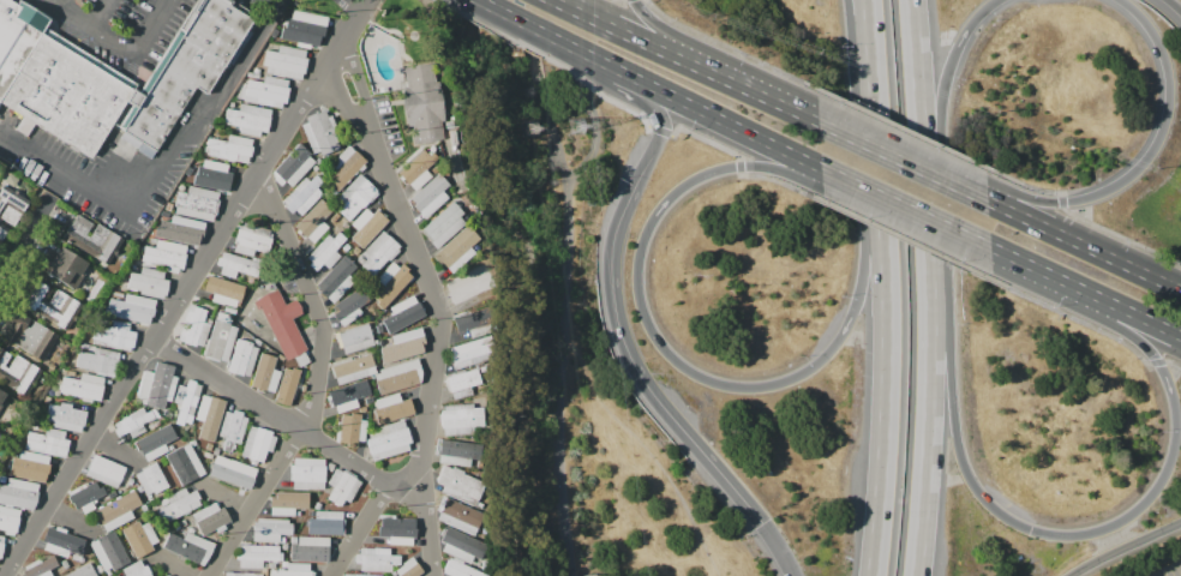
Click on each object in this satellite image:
road: (275, 1)
parking lot: (248, 4)
road: (350, 5)
road: (1175, 5)
road: (492, 6)
building: (296, 12)
road: (106, 14)
road: (455, 14)
parking lot: (118, 28)
building: (307, 30)
building: (17, 38)
road: (560, 40)
road: (114, 41)
road: (865, 43)
road: (871, 43)
road: (653, 46)
road: (691, 48)
building: (286, 62)
road: (550, 70)
building: (257, 71)
building: (250, 74)
building: (256, 76)
road: (635, 76)
road: (358, 77)
building: (125, 82)
building: (266, 91)
road: (943, 95)
road: (336, 100)
building: (422, 102)
building: (232, 104)
road: (927, 104)
road: (784, 106)
road: (658, 108)
building: (248, 119)
road: (594, 121)
road: (736, 125)
power tower: (583, 126)
power tower: (534, 127)
road: (880, 130)
building: (320, 132)
building: (230, 149)
road: (652, 154)
road: (1149, 155)
road: (901, 161)
road: (160, 164)
building: (294, 166)
building: (346, 167)
building: (420, 168)
building: (316, 169)
building: (324, 172)
building: (215, 175)
building: (186, 180)
building: (304, 194)
building: (431, 194)
building: (355, 197)
building: (197, 203)
building: (11, 205)
building: (168, 206)
road: (904, 206)
building: (334, 216)
building: (314, 223)
building: (368, 223)
building: (444, 223)
building: (344, 226)
building: (184, 229)
building: (2, 230)
building: (92, 240)
building: (251, 240)
road: (20, 242)
building: (346, 245)
road: (1083, 245)
building: (457, 250)
building: (325, 252)
building: (378, 252)
building: (348, 254)
building: (164, 256)
building: (236, 265)
road: (1035, 268)
building: (72, 270)
building: (336, 278)
building: (392, 281)
building: (149, 282)
road: (184, 287)
building: (468, 287)
building: (222, 290)
road: (308, 300)
building: (53, 305)
building: (350, 306)
building: (134, 308)
building: (229, 310)
building: (403, 312)
road: (1132, 312)
road: (565, 317)
building: (282, 322)
building: (473, 323)
building: (196, 326)
building: (379, 331)
building: (30, 336)
building: (114, 336)
building: (220, 338)
building: (354, 338)
road: (436, 338)
building: (376, 342)
building: (257, 343)
building: (403, 344)
building: (84, 347)
building: (470, 353)
building: (242, 358)
building: (280, 358)
building: (301, 359)
building: (98, 361)
road: (643, 362)
building: (52, 366)
building: (353, 368)
road: (687, 368)
building: (16, 372)
building: (64, 372)
building: (70, 373)
building: (265, 373)
road: (891, 374)
building: (398, 377)
road: (224, 383)
building: (462, 383)
building: (157, 385)
building: (287, 385)
building: (83, 386)
road: (934, 394)
building: (1, 395)
building: (348, 396)
building: (47, 398)
building: (53, 398)
building: (186, 400)
building: (371, 401)
building: (0, 406)
building: (392, 408)
building: (209, 414)
building: (65, 416)
building: (460, 419)
building: (133, 424)
building: (35, 427)
building: (151, 427)
building: (232, 428)
building: (350, 430)
building: (388, 439)
road: (109, 442)
building: (156, 442)
building: (47, 443)
building: (192, 443)
building: (258, 444)
building: (170, 446)
building: (457, 452)
building: (208, 454)
road: (343, 457)
building: (185, 463)
building: (34, 467)
building: (330, 467)
building: (104, 470)
building: (307, 473)
building: (230, 474)
building: (1, 478)
building: (151, 479)
road: (403, 480)
building: (131, 481)
building: (342, 486)
building: (460, 486)
building: (139, 488)
building: (104, 492)
building: (18, 493)
road: (226, 496)
building: (85, 498)
road: (252, 503)
building: (288, 503)
building: (178, 504)
building: (317, 505)
building: (118, 510)
building: (312, 512)
road: (65, 514)
building: (298, 514)
building: (458, 516)
traffic signals: (769, 517)
building: (211, 518)
building: (8, 520)
building: (181, 523)
building: (326, 523)
building: (176, 527)
building: (270, 529)
building: (396, 529)
building: (191, 530)
road: (360, 530)
road: (1045, 534)
building: (139, 538)
building: (282, 540)
building: (294, 540)
building: (61, 542)
building: (1, 545)
building: (462, 546)
road: (787, 546)
building: (188, 547)
building: (310, 550)
road: (1127, 550)
building: (108, 552)
building: (257, 554)
building: (72, 558)
building: (78, 559)
building: (376, 559)
building: (64, 564)
building: (283, 564)
building: (40, 566)
road: (173, 566)
building: (409, 568)
building: (137, 569)
building: (458, 569)
building: (98, 570)
building: (294, 570)
building: (82, 571)
building: (264, 571)
building: (108, 572)
building: (242, 574)
building: (392, 574)
building: (167, 575)
building: (169, 575)
building: (356, 575)

